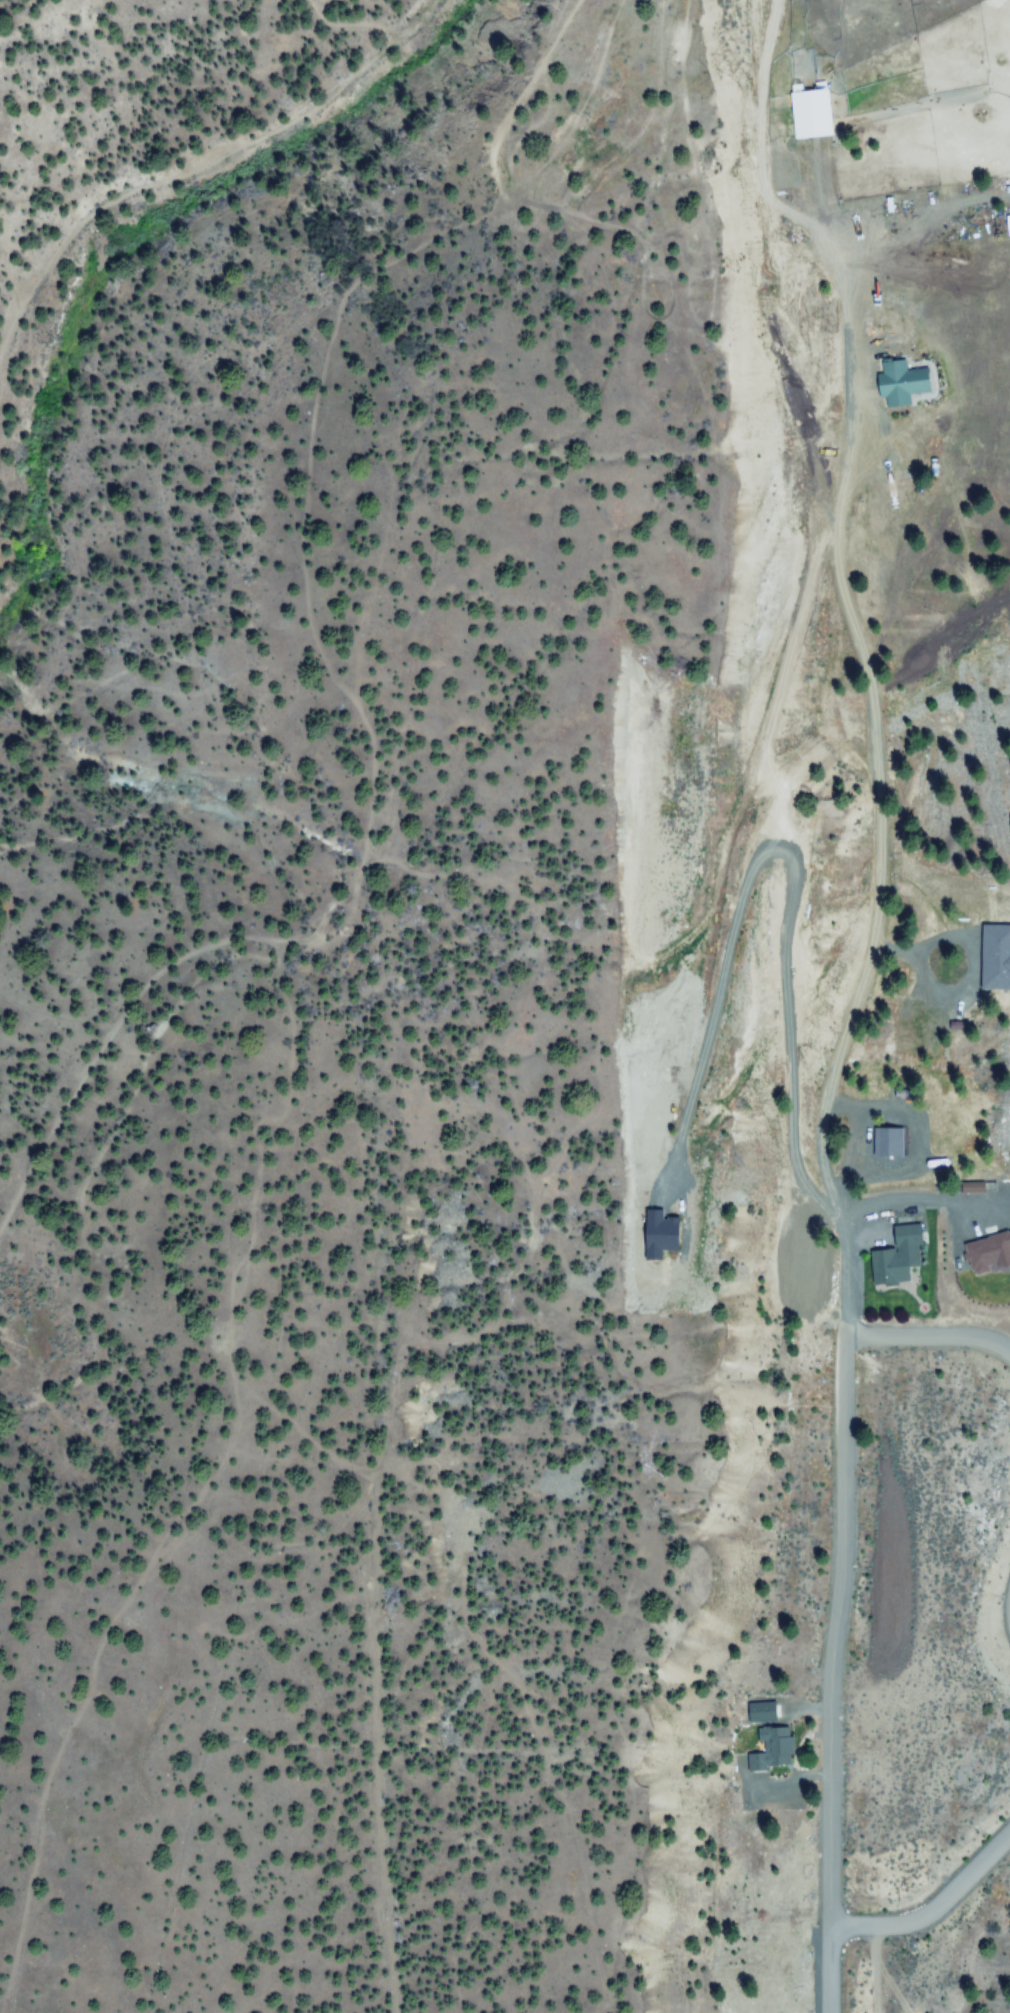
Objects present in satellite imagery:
building: (802, 106)
building: (896, 383)
building: (985, 1255)
building: (893, 1257)
road: (930, 1337)
road: (836, 1610)
building: (762, 1713)
building: (772, 1751)
road: (935, 1909)

